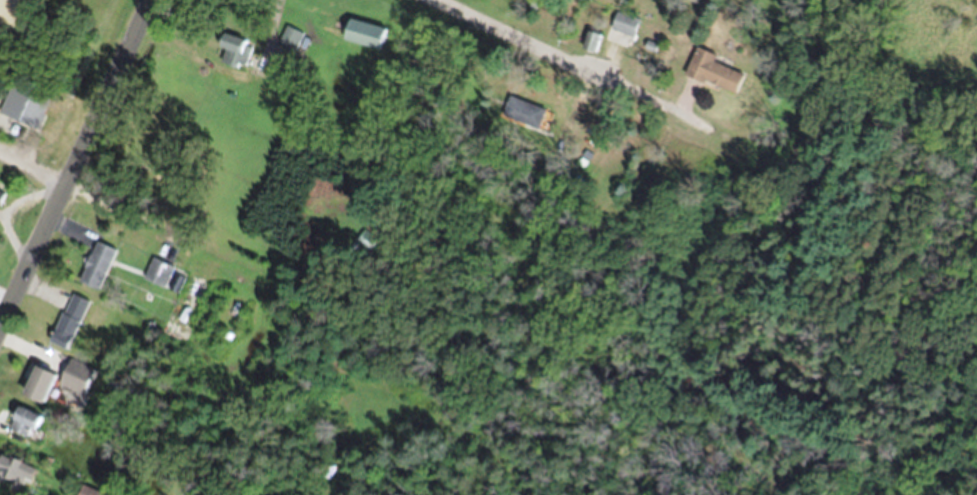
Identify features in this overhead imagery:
building: (626, 0)
road: (270, 24)
building: (624, 31)
building: (363, 40)
building: (290, 44)
building: (230, 49)
building: (594, 49)
road: (597, 73)
building: (715, 78)
building: (25, 110)
road: (76, 163)
road: (32, 173)
building: (1, 202)
building: (96, 272)
building: (156, 279)
building: (68, 327)
building: (38, 391)
building: (23, 428)

